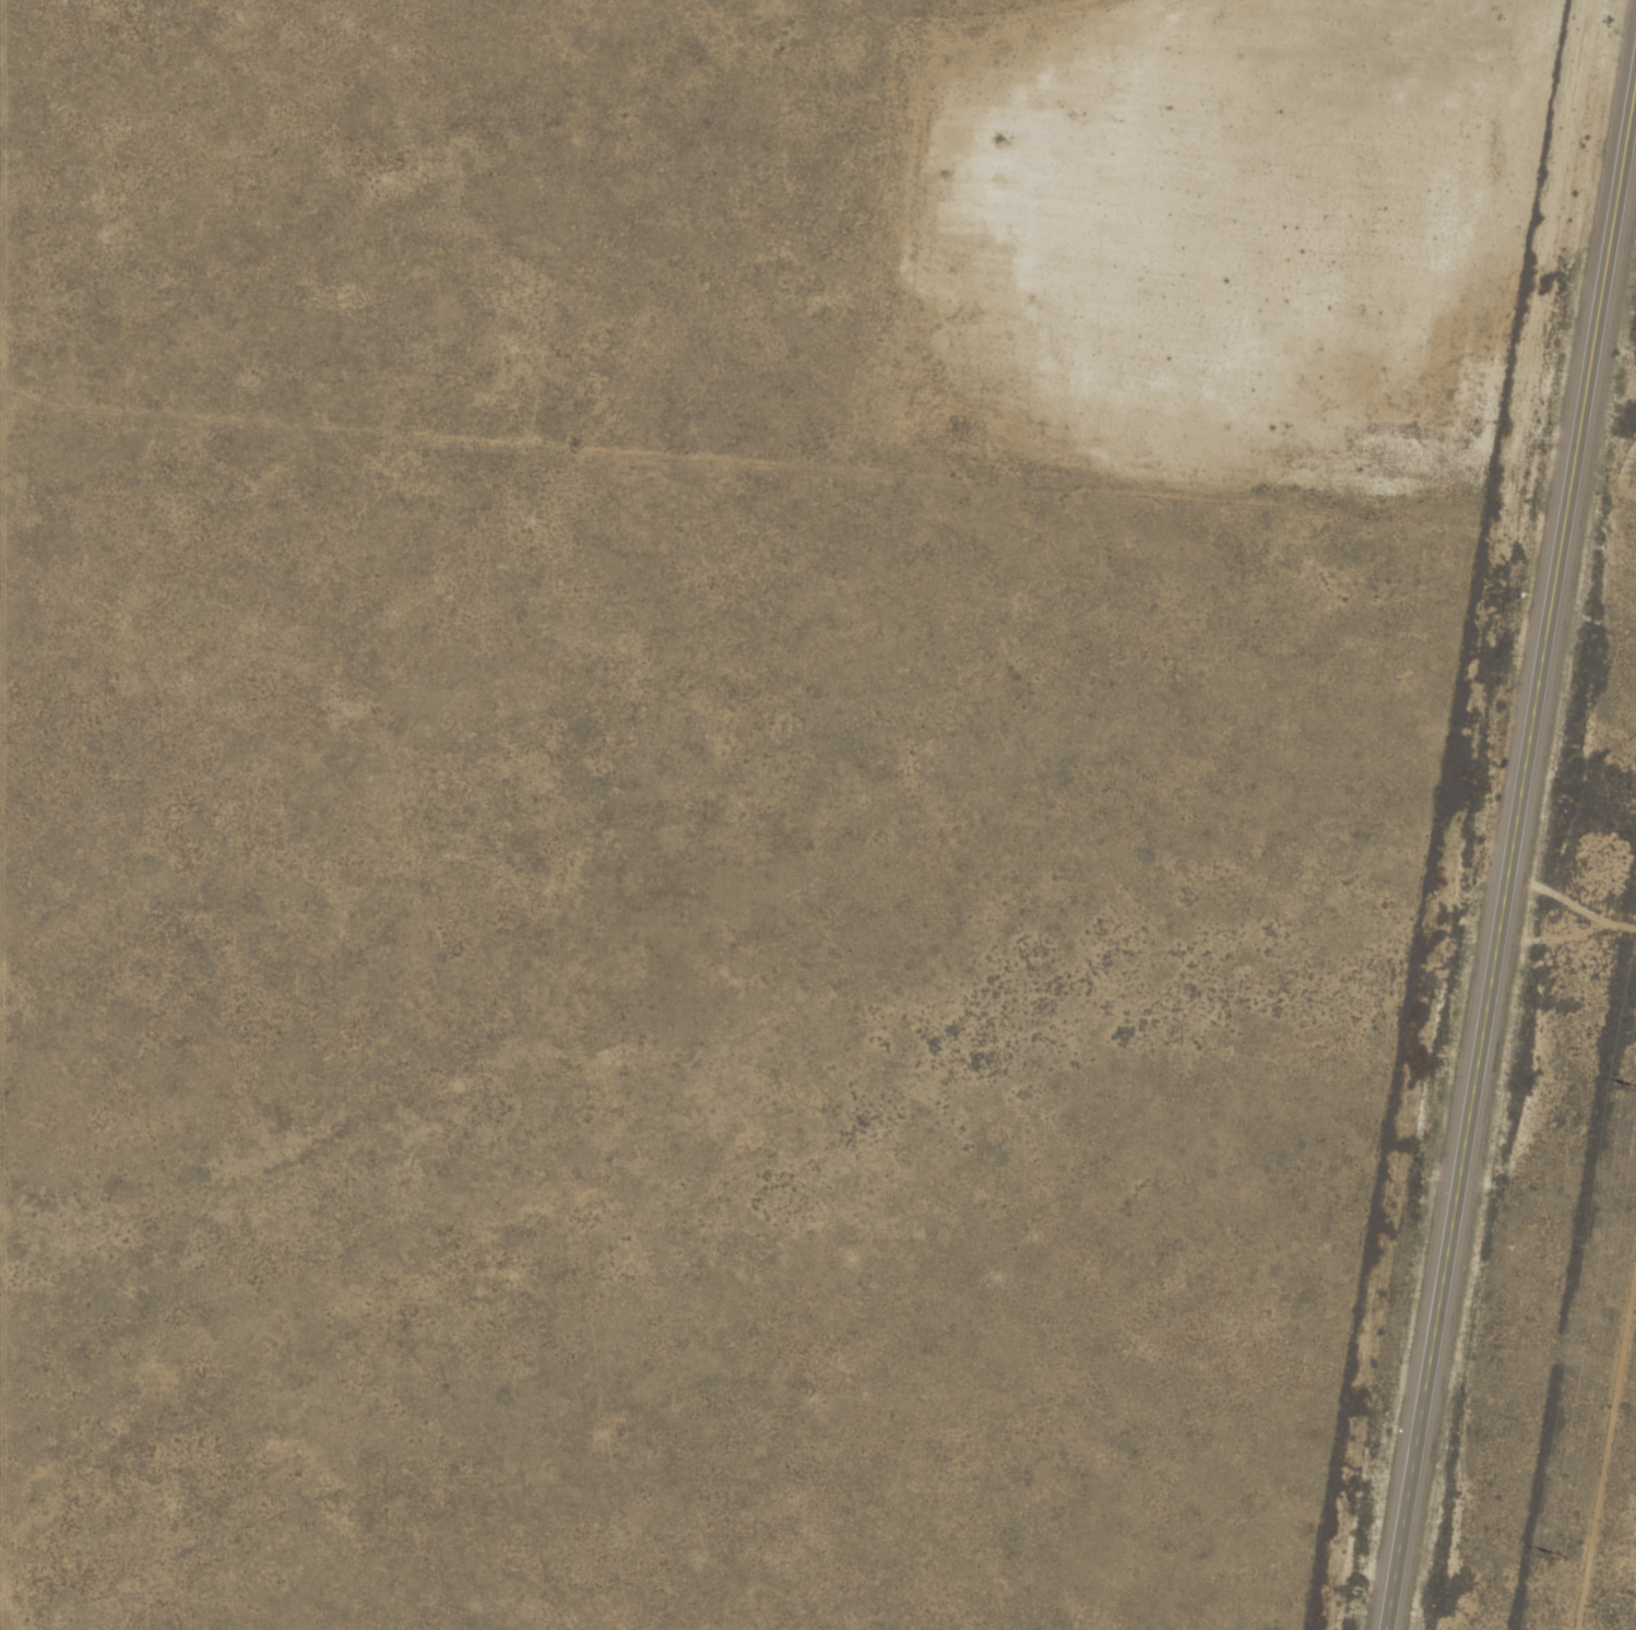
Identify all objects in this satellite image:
road: (1506, 817)
power tower: (1562, 1559)

